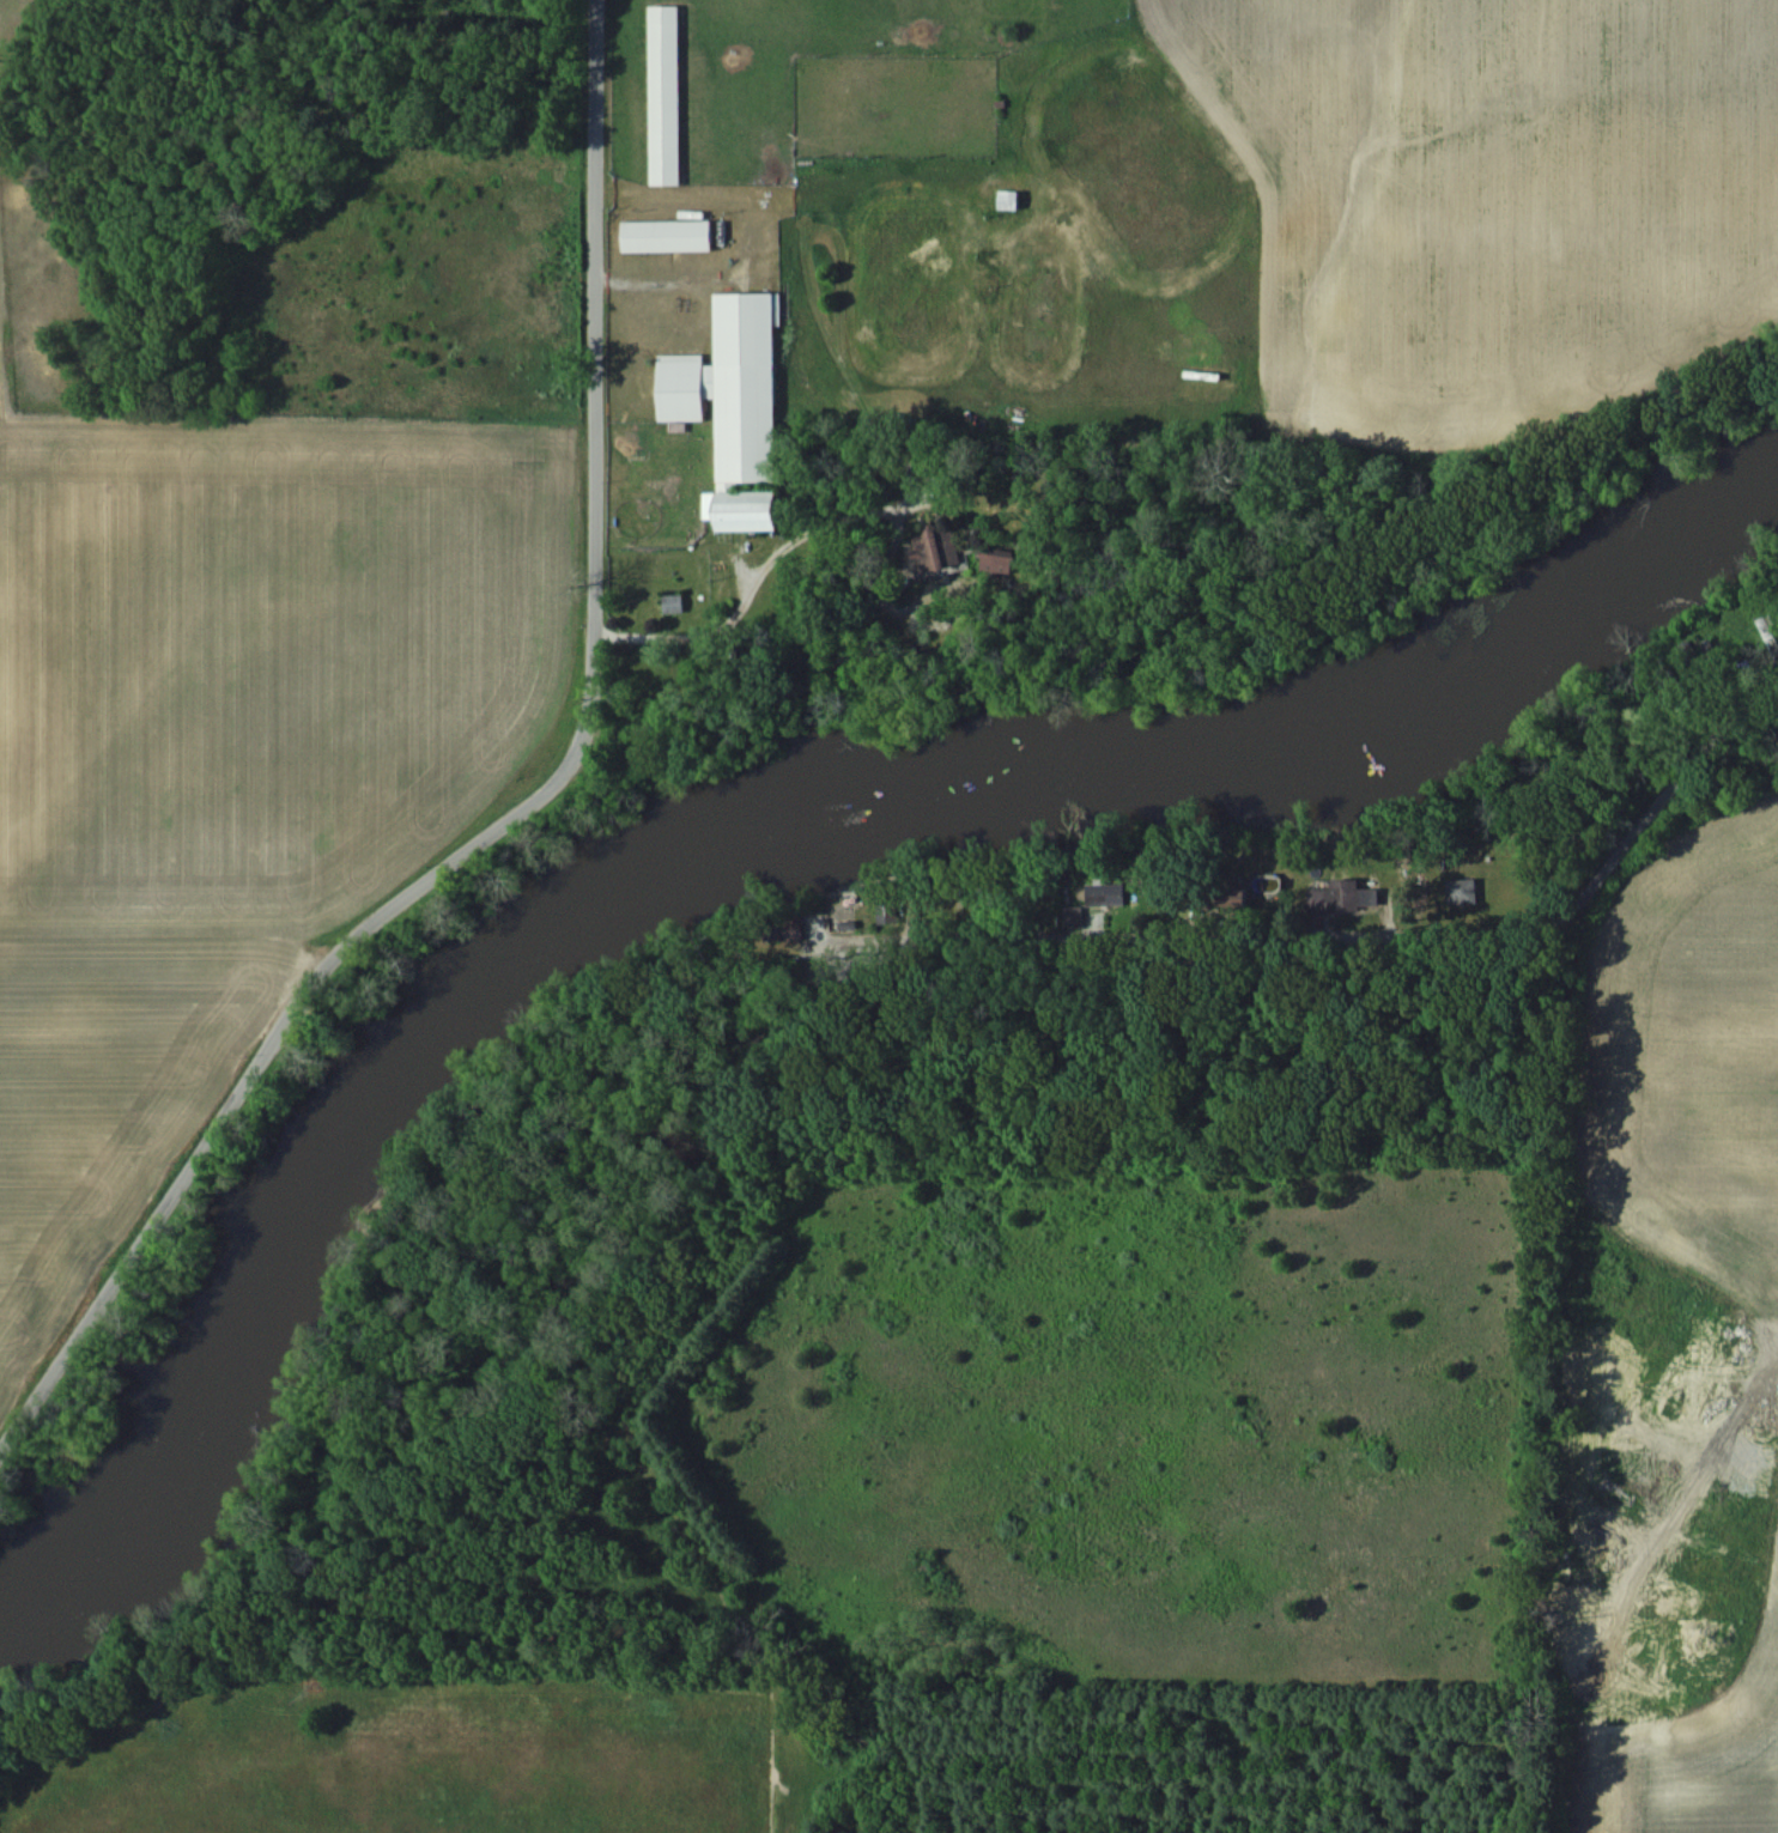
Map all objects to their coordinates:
building: (668, 95)
building: (1011, 200)
building: (670, 236)
building: (736, 408)
building: (939, 550)
building: (993, 560)
road: (760, 566)
building: (675, 605)
building: (1746, 633)
road: (523, 806)
river: (759, 852)
building: (1460, 891)
building: (1331, 894)
road: (912, 940)
road: (910, 1080)

